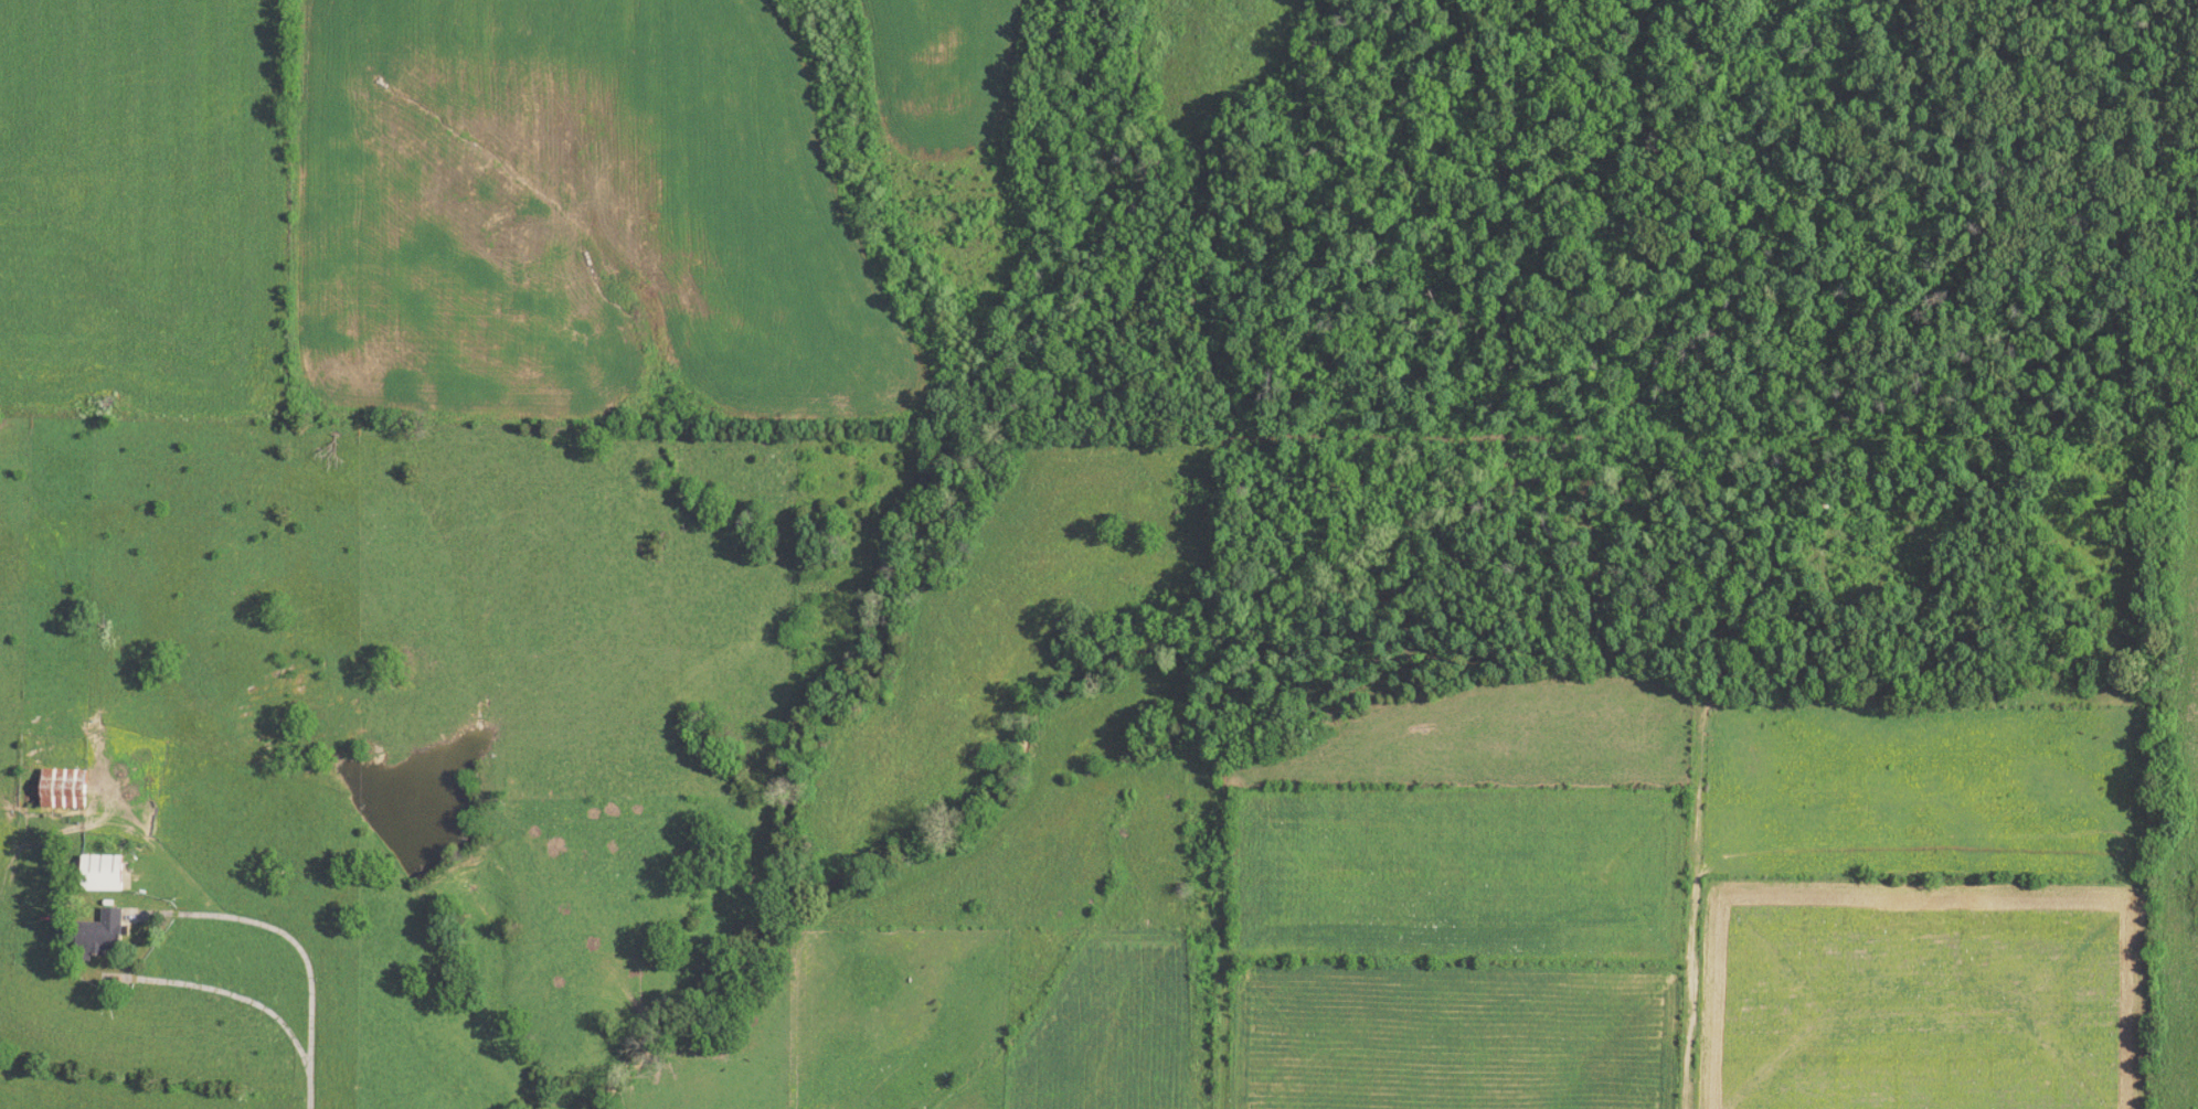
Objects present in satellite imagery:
building: (70, 789)
building: (110, 874)
road: (212, 919)
building: (112, 935)
road: (245, 1009)

